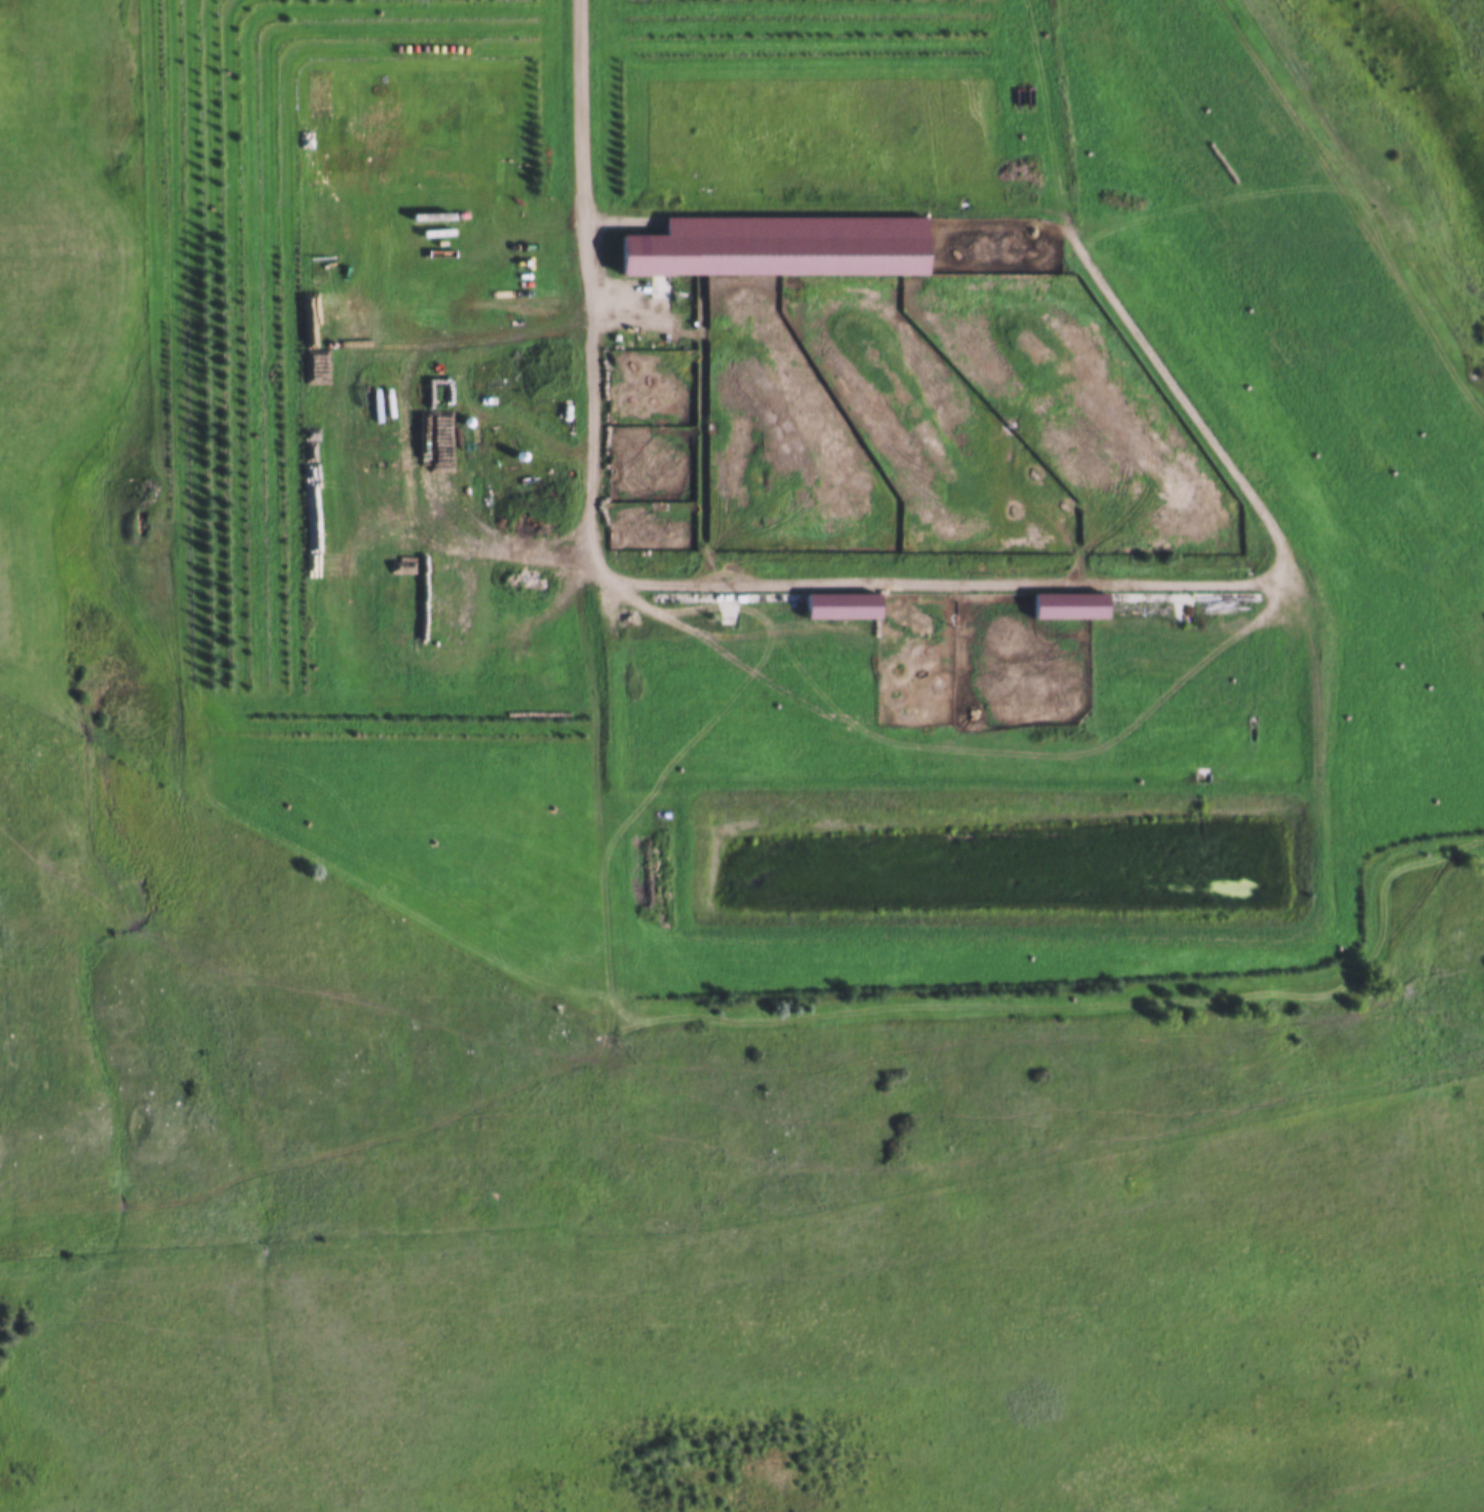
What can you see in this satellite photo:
road: (1351, 206)
building: (775, 238)
building: (738, 469)
road: (593, 522)
building: (840, 601)
building: (1067, 601)

